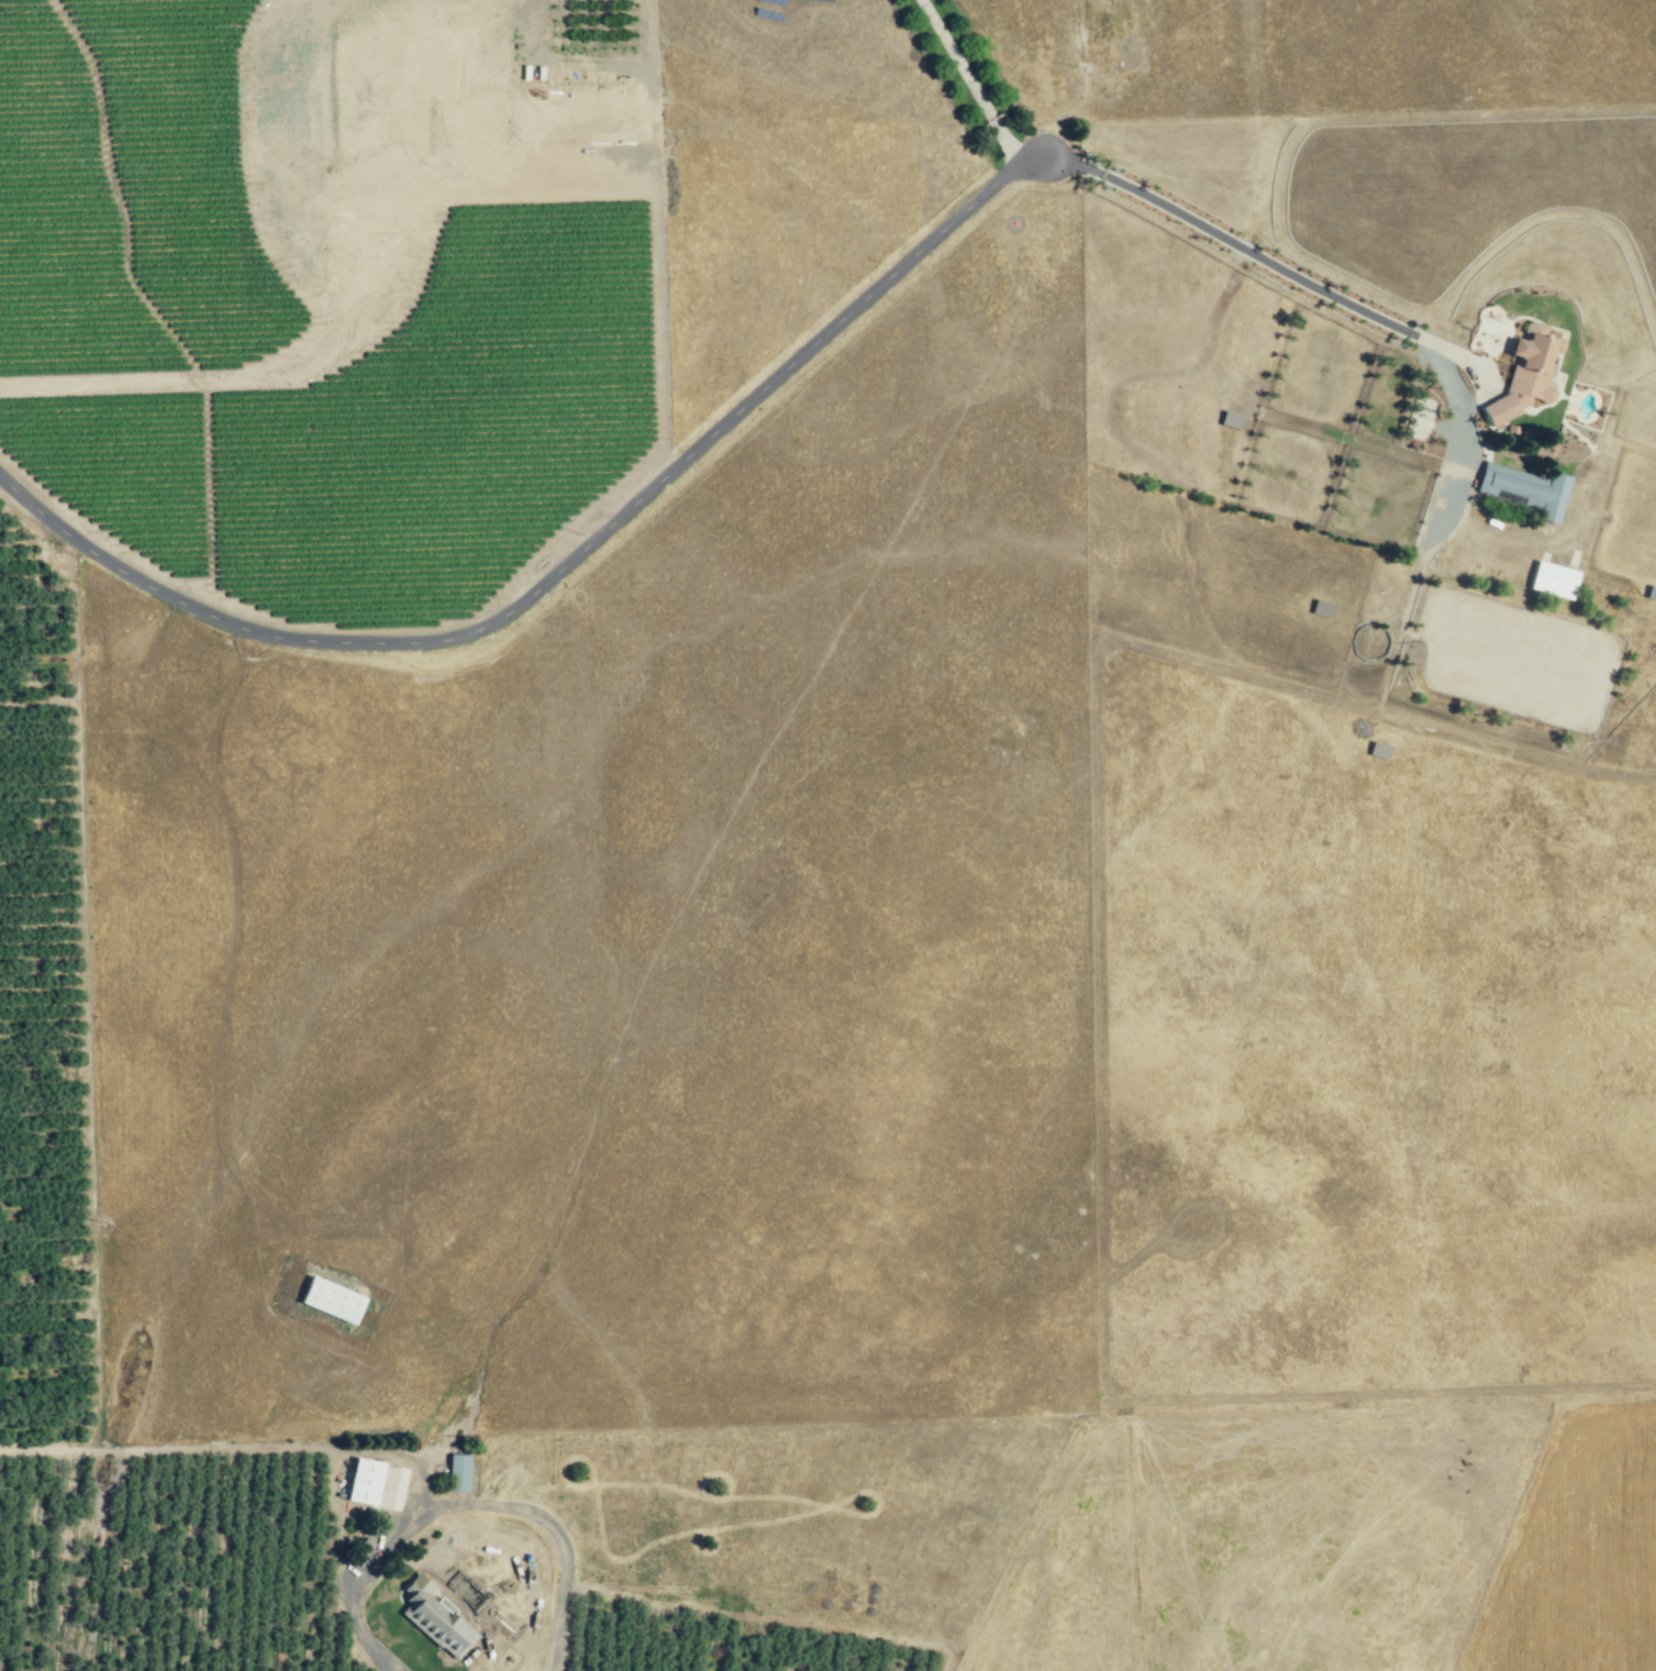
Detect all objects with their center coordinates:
road: (975, 86)
road: (1247, 248)
building: (1522, 376)
building: (1232, 420)
building: (1523, 489)
road: (562, 568)
crop: (263, 569)
building: (1552, 580)
building: (1651, 593)
building: (1321, 608)
building: (1379, 751)
building: (329, 1301)
building: (458, 1473)
building: (363, 1482)
road: (562, 1546)
building: (425, 1612)
crop: (696, 1649)

